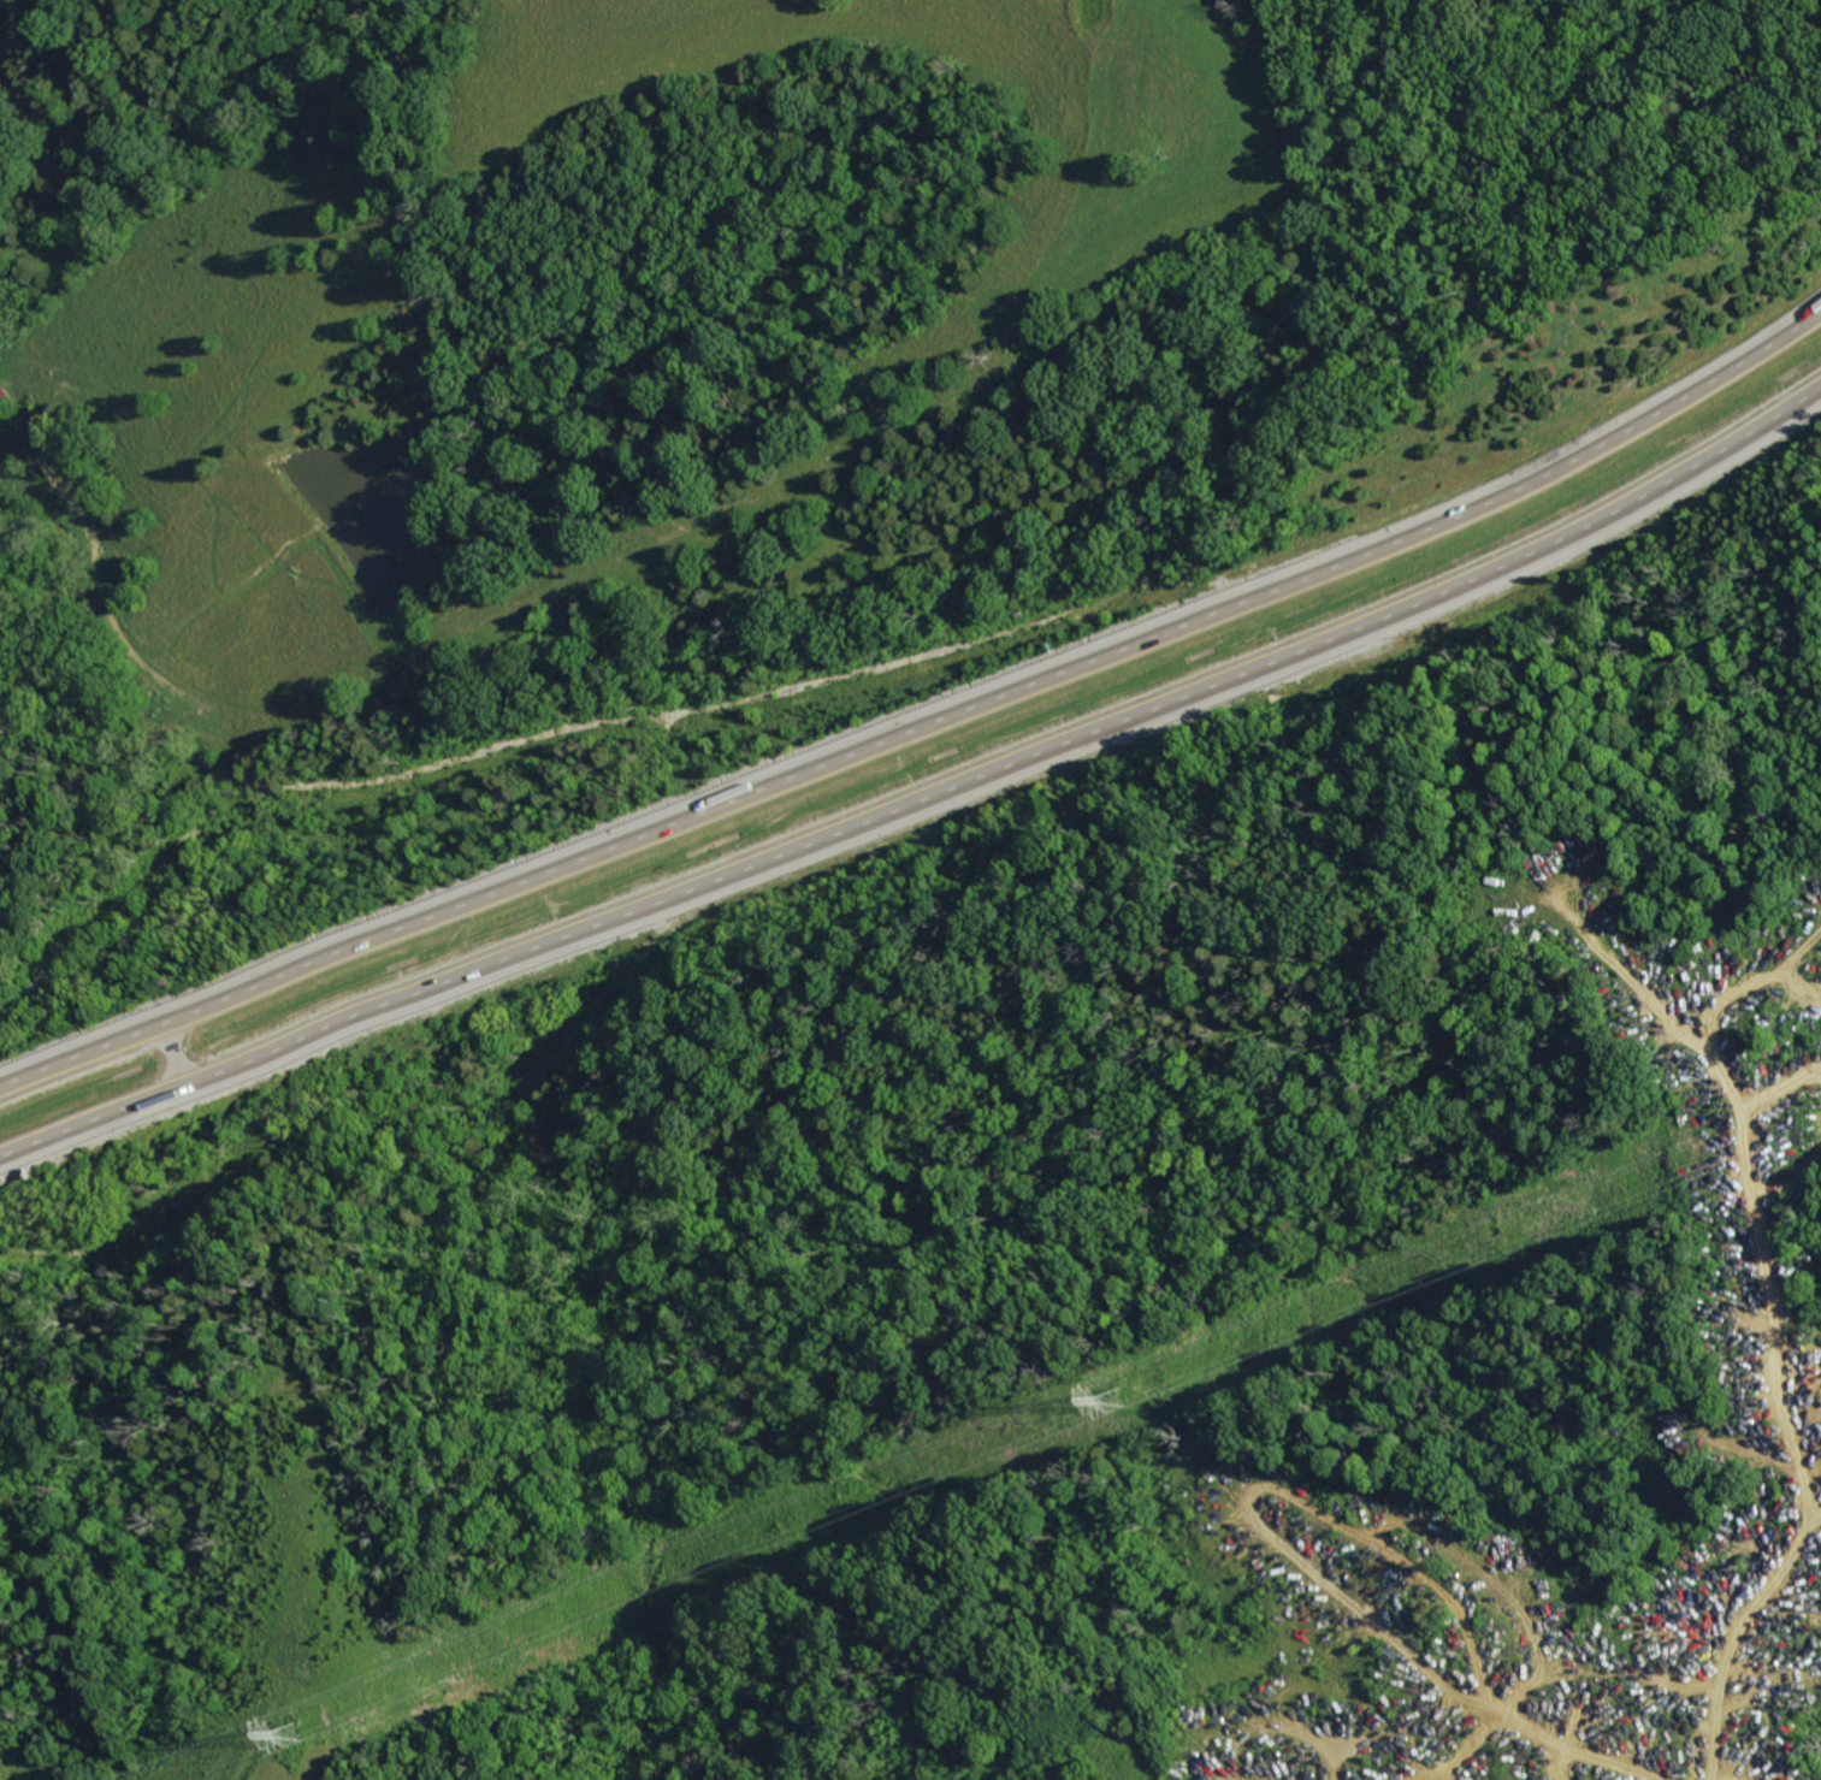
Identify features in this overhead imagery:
road: (927, 723)
road: (922, 806)
power tower: (1117, 1403)
road: (1739, 1489)
power tower: (297, 1732)

